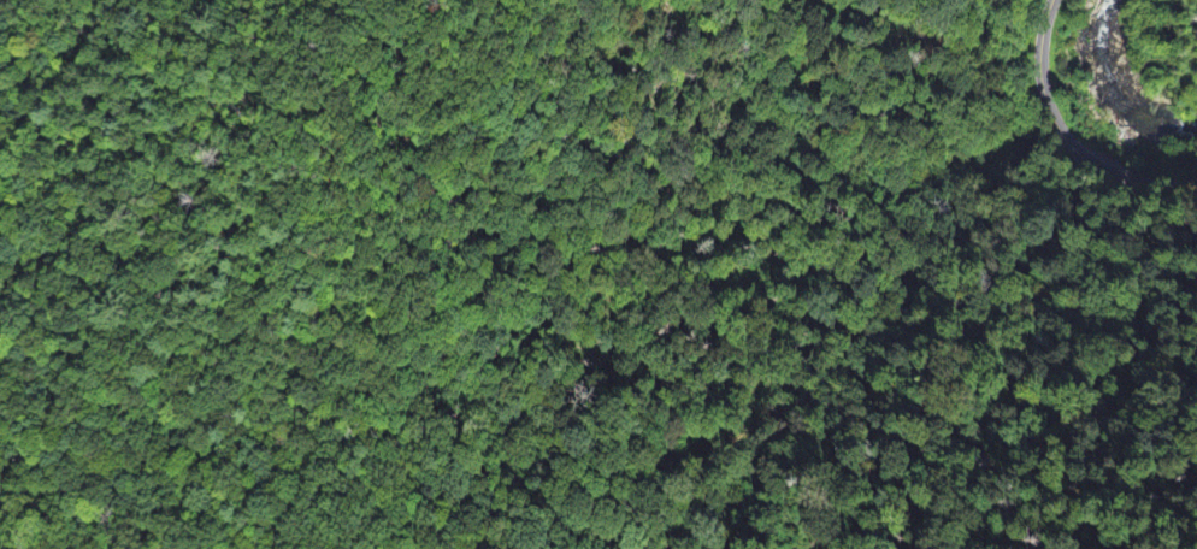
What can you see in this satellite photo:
river: (1109, 93)
road: (1063, 138)

